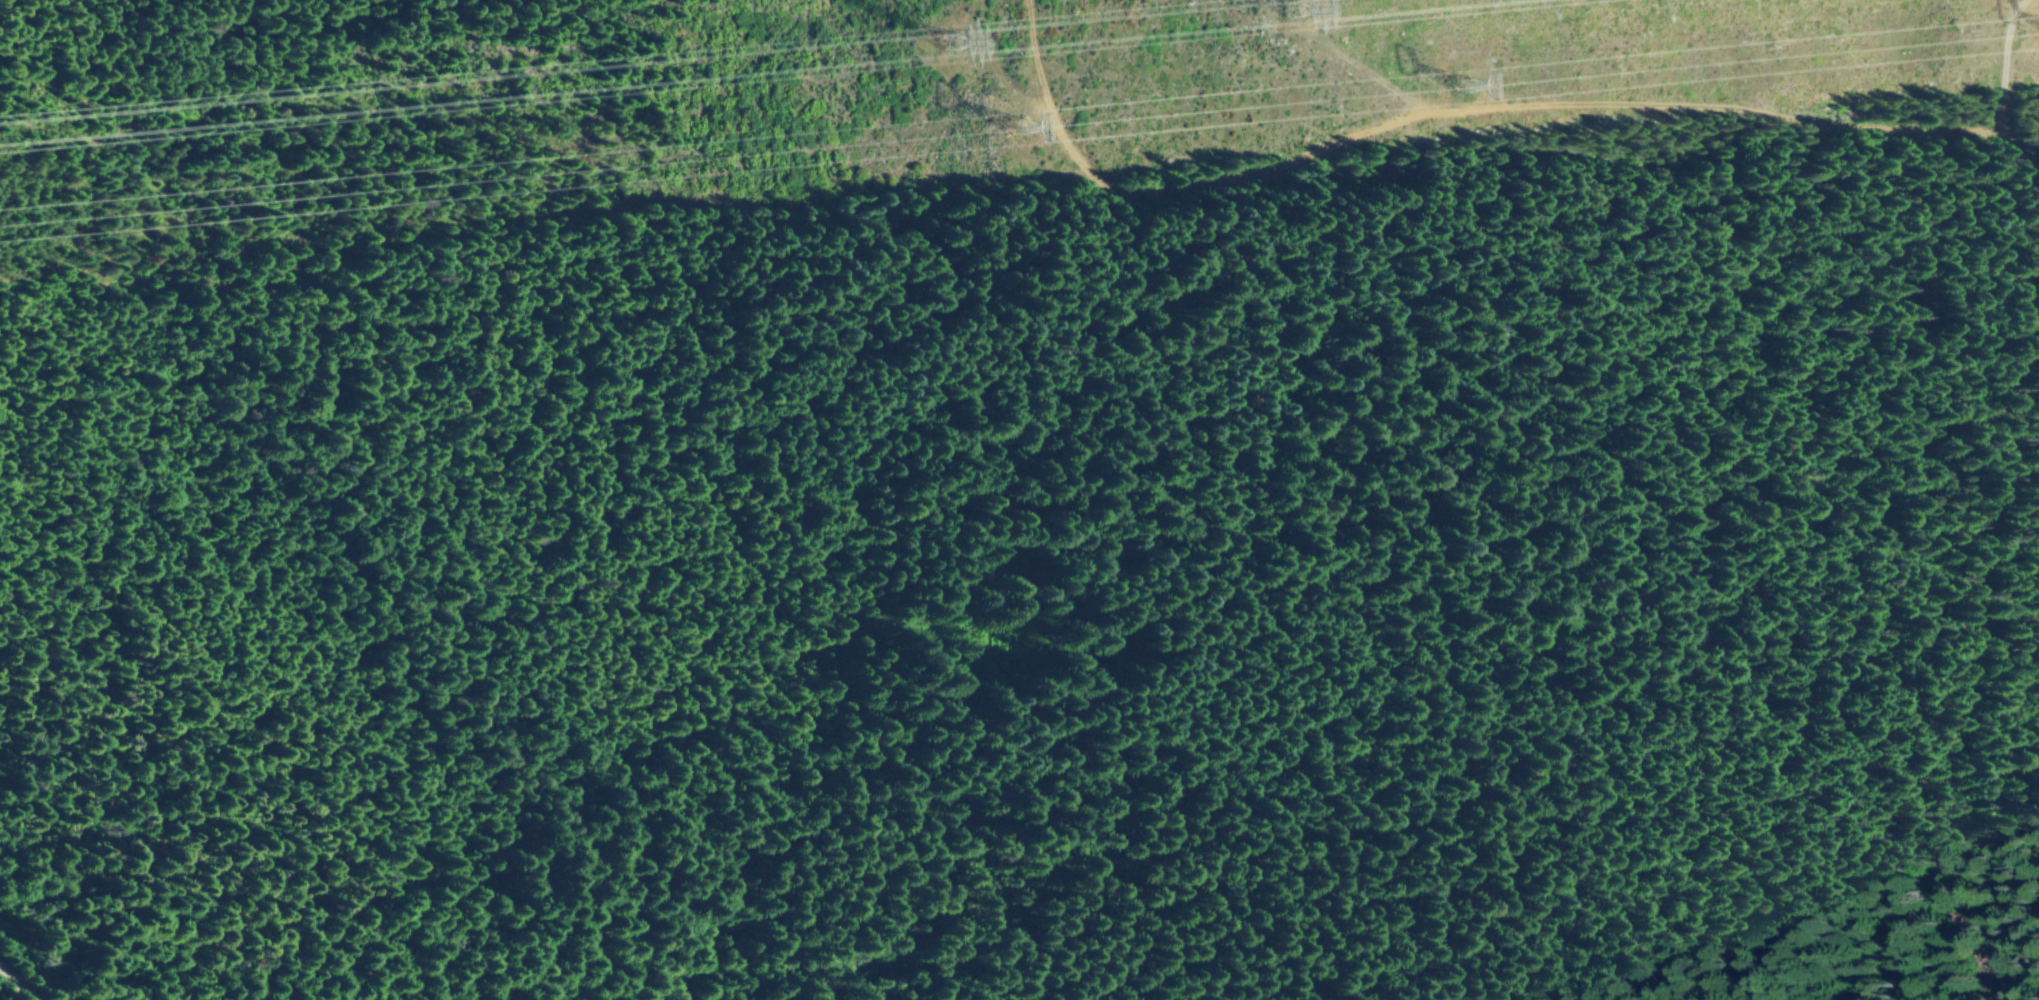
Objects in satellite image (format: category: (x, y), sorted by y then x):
power tower: (1289, 4)
power tower: (947, 44)
power tower: (1458, 80)
road: (2002, 91)
power tower: (1021, 123)
road: (17, 983)

